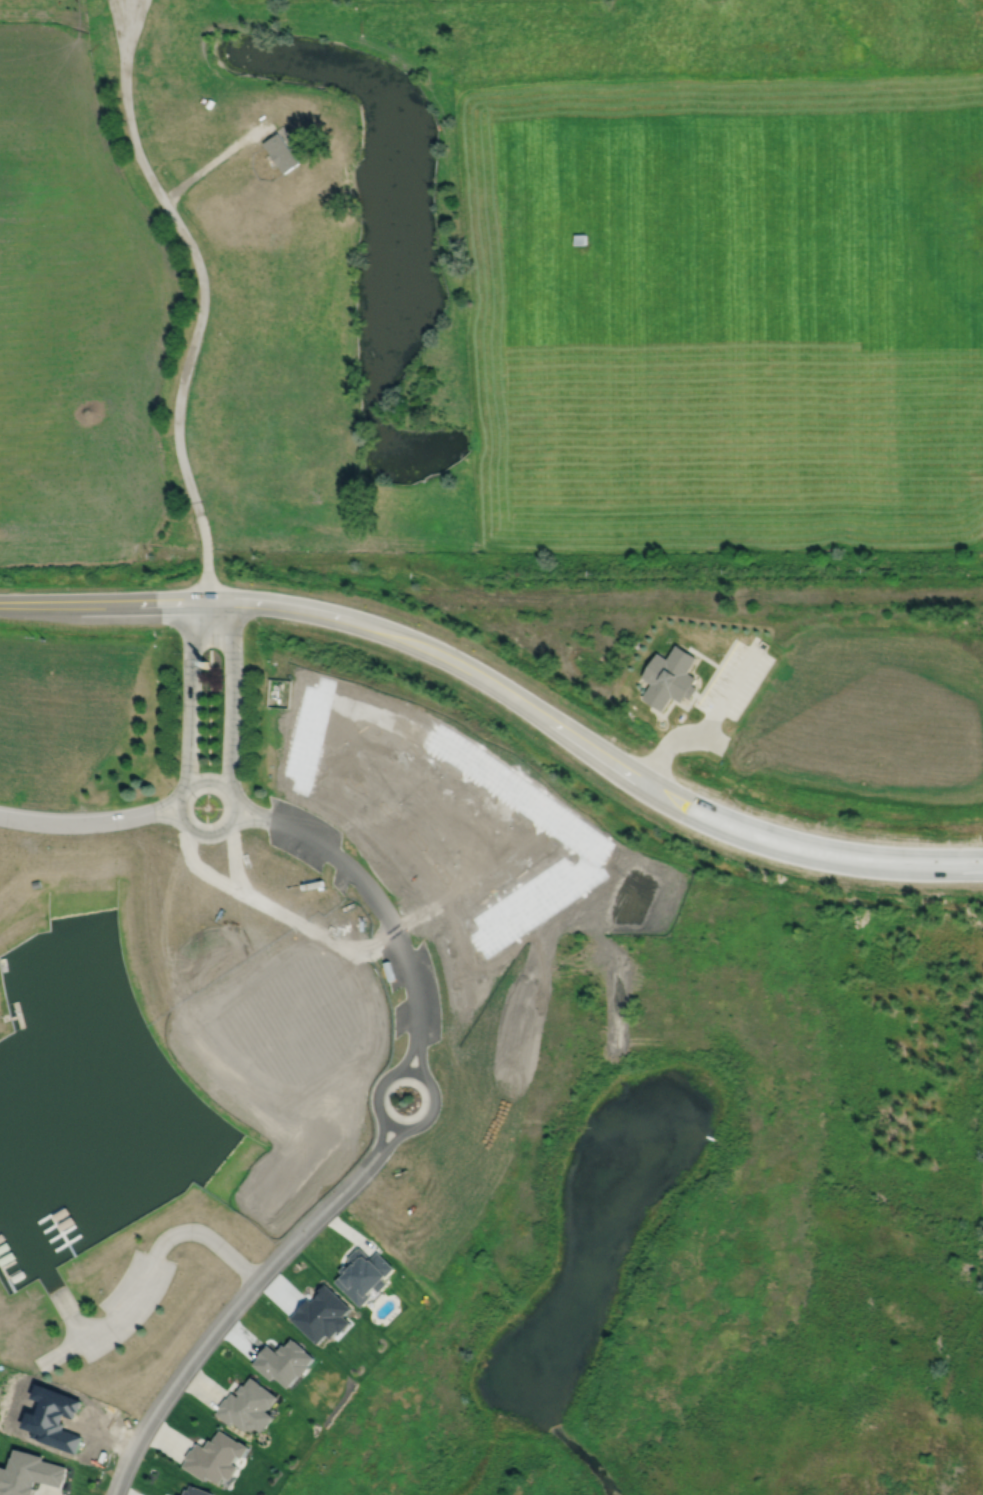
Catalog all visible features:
building: (208, 103)
building: (280, 152)
building: (308, 155)
road: (216, 160)
building: (580, 239)
road: (203, 294)
crop: (74, 316)
road: (279, 604)
building: (205, 664)
building: (670, 677)
parking lot: (736, 681)
road: (232, 692)
road: (190, 694)
road: (703, 732)
road: (206, 777)
road: (162, 804)
road: (252, 808)
road: (178, 810)
road: (235, 810)
road: (164, 818)
road: (251, 822)
road: (746, 822)
road: (70, 824)
road: (206, 836)
parking lot: (308, 840)
road: (740, 842)
road: (391, 922)
parking lot: (411, 985)
road: (399, 1072)
road: (209, 1238)
building: (363, 1274)
road: (243, 1301)
parking lot: (131, 1303)
road: (65, 1305)
road: (130, 1305)
road: (63, 1353)
building: (247, 1406)
building: (215, 1457)
building: (29, 1474)
building: (197, 1491)

